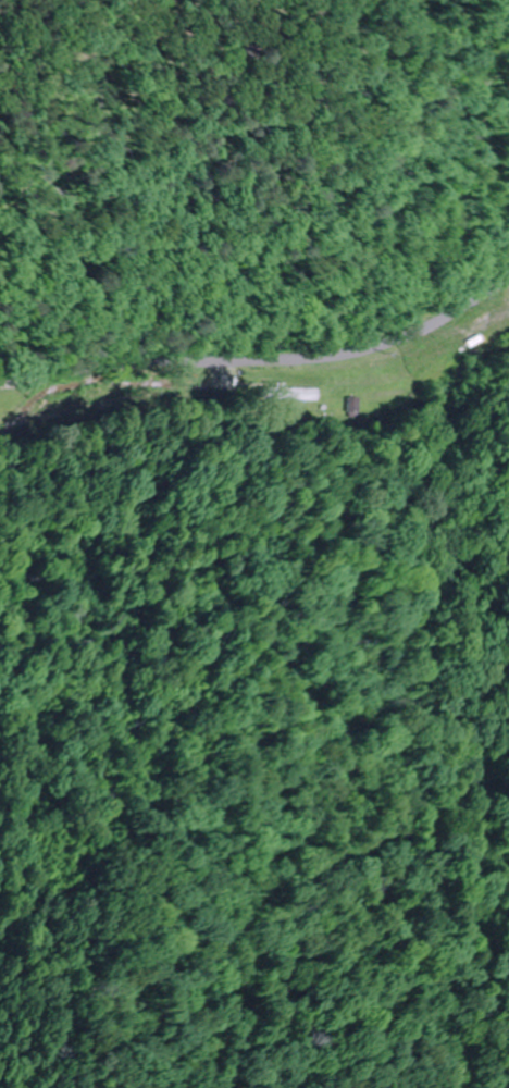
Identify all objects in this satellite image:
building: (484, 330)
road: (264, 359)
building: (289, 395)

